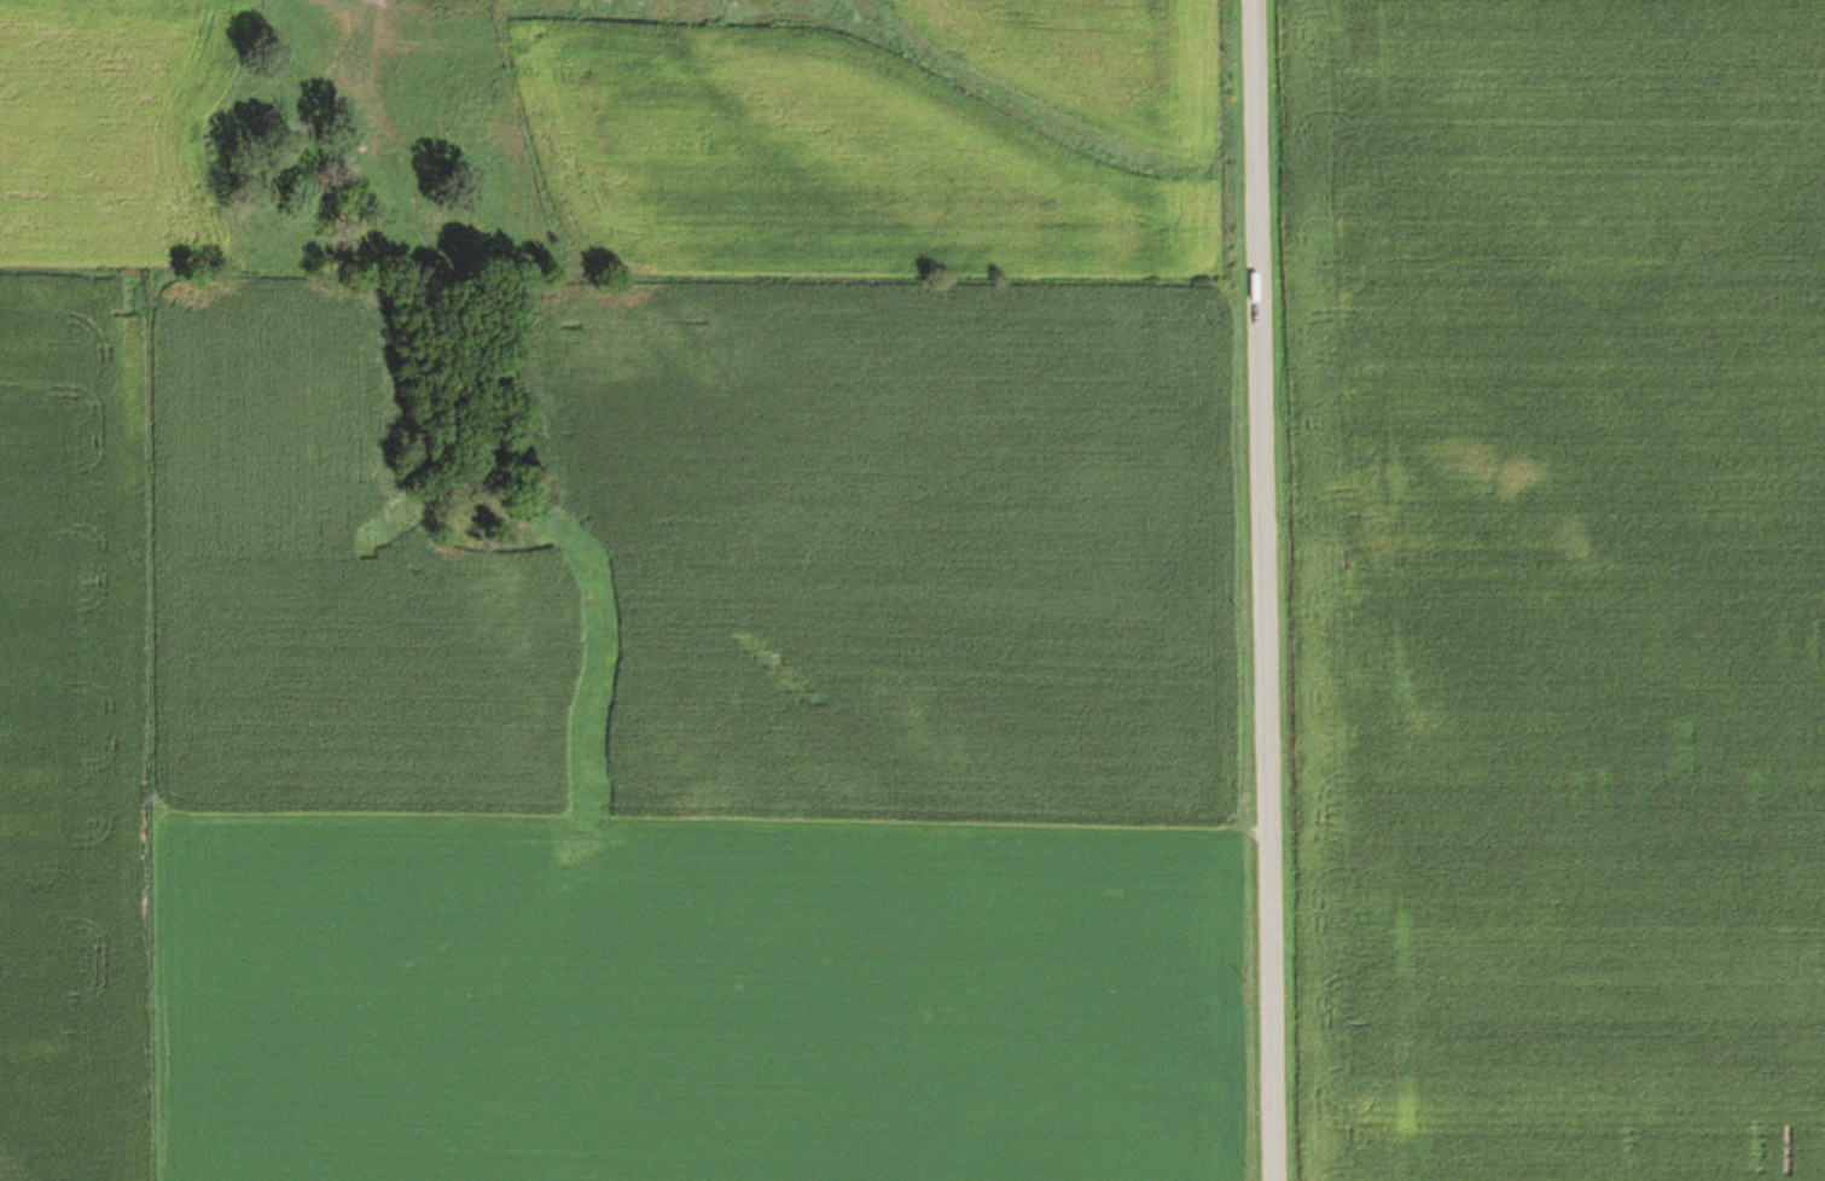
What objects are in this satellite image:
road: (1268, 590)

